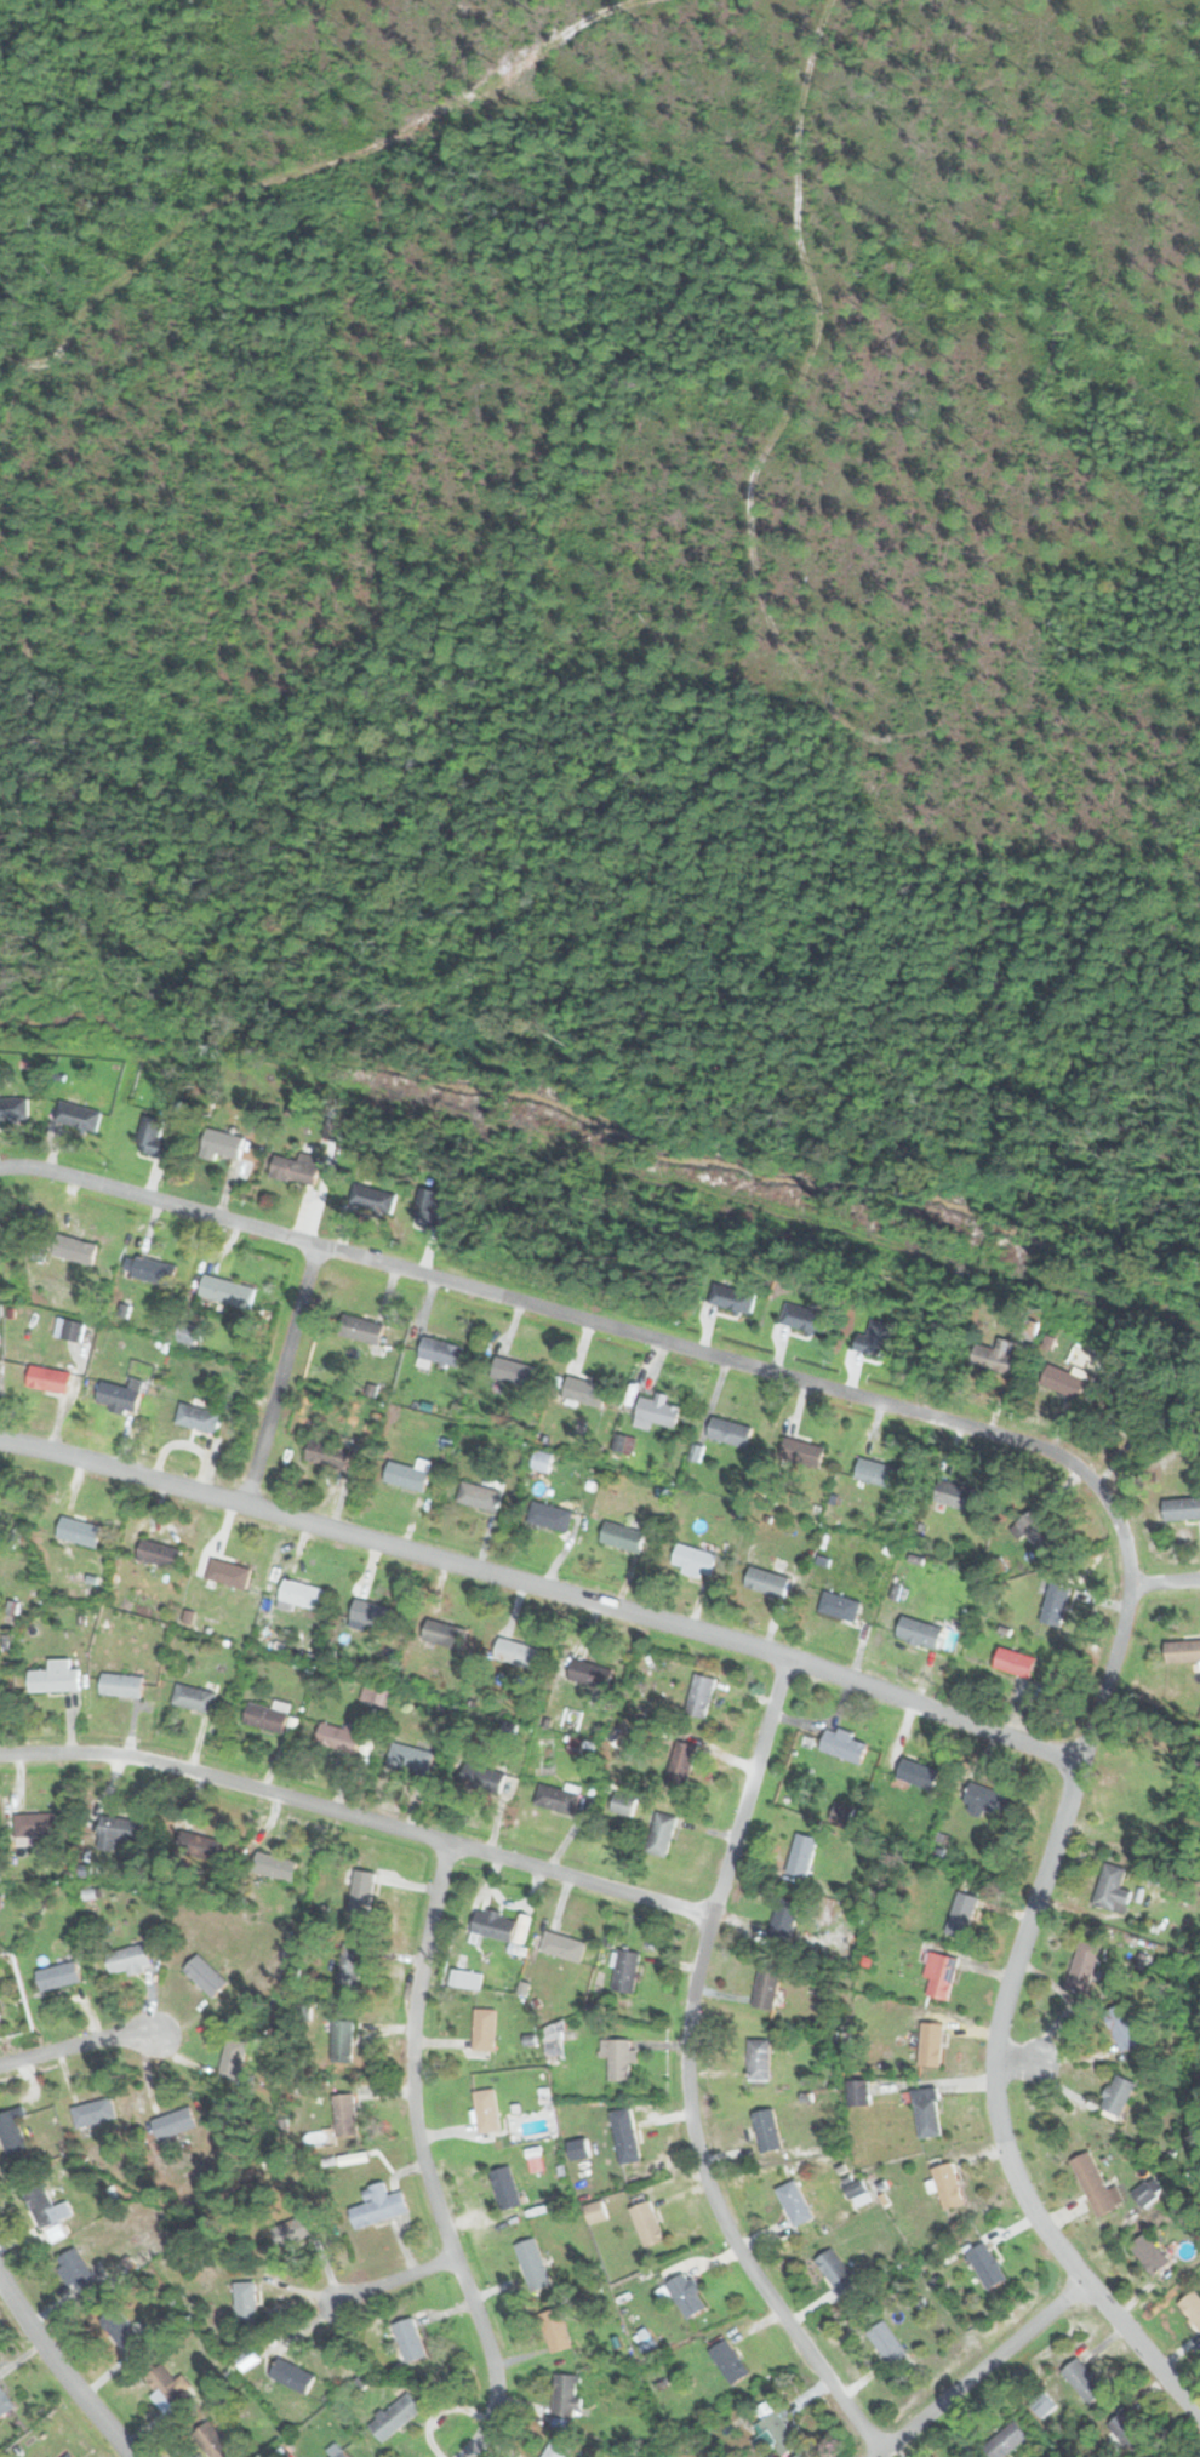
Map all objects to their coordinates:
building: (11, 1110)
building: (76, 1114)
building: (155, 1136)
building: (223, 1145)
building: (296, 1167)
building: (372, 1198)
building: (430, 1207)
building: (74, 1249)
building: (153, 1269)
building: (227, 1290)
building: (731, 1296)
building: (804, 1316)
building: (361, 1329)
building: (874, 1336)
building: (441, 1350)
building: (994, 1355)
building: (513, 1371)
road: (279, 1373)
building: (47, 1378)
building: (1065, 1378)
building: (584, 1392)
building: (119, 1394)
building: (657, 1411)
building: (198, 1418)
building: (728, 1430)
building: (801, 1450)
road: (1046, 1451)
building: (327, 1452)
building: (876, 1472)
building: (408, 1473)
building: (482, 1493)
building: (956, 1495)
building: (1182, 1508)
building: (550, 1515)
building: (79, 1531)
building: (1039, 1531)
building: (622, 1536)
building: (158, 1553)
building: (693, 1560)
building: (228, 1572)
building: (766, 1581)
road: (1164, 1581)
road: (543, 1589)
building: (301, 1593)
building: (1056, 1604)
building: (840, 1606)
building: (372, 1613)
building: (445, 1633)
building: (919, 1633)
building: (1184, 1651)
building: (516, 1652)
building: (1015, 1662)
building: (592, 1674)
building: (56, 1675)
building: (120, 1685)
building: (195, 1696)
building: (699, 1696)
building: (267, 1716)
building: (339, 1736)
building: (842, 1745)
building: (410, 1756)
building: (680, 1762)
building: (916, 1775)
building: (482, 1777)
building: (555, 1799)
building: (984, 1800)
road: (358, 1816)
building: (36, 1824)
building: (116, 1830)
building: (661, 1835)
building: (195, 1845)
building: (801, 1855)
building: (276, 1864)
building: (1112, 1889)
building: (361, 1891)
building: (961, 1914)
building: (783, 1921)
building: (493, 1924)
building: (562, 1947)
building: (126, 1958)
building: (349, 1964)
building: (1084, 1964)
building: (624, 1971)
building: (204, 1975)
building: (57, 1976)
building: (941, 1976)
building: (465, 1978)
building: (766, 1987)
building: (1122, 2028)
building: (484, 2029)
building: (0, 2030)
building: (342, 2040)
building: (554, 2040)
road: (79, 2044)
building: (932, 2044)
building: (617, 2058)
building: (759, 2058)
building: (232, 2059)
road: (1018, 2062)
road: (687, 2076)
building: (858, 2092)
building: (1116, 2095)
building: (486, 2110)
building: (92, 2112)
building: (927, 2113)
building: (344, 2114)
building: (172, 2122)
building: (12, 2130)
building: (766, 2130)
building: (624, 2135)
road: (422, 2159)
building: (535, 2161)
building: (947, 2185)
building: (1095, 2185)
building: (504, 2188)
building: (856, 2189)
building: (795, 2202)
building: (378, 2205)
building: (46, 2206)
building: (647, 2223)
building: (292, 2230)
building: (1148, 2253)
building: (533, 2265)
building: (985, 2265)
building: (75, 2269)
building: (835, 2270)
road: (395, 2278)
building: (686, 2295)
building: (246, 2303)
building: (1192, 2308)
building: (556, 2331)
building: (124, 2336)
building: (408, 2341)
building: (887, 2343)
building: (728, 2362)
road: (979, 2369)
road: (62, 2371)
building: (291, 2376)
building: (1084, 2381)
building: (166, 2385)
building: (566, 2396)
building: (4, 2404)
building: (1042, 2405)
building: (394, 2417)
building: (772, 2432)
building: (1130, 2434)
building: (1005, 2440)
building: (213, 2441)
building: (556, 2449)
building: (67, 2455)
building: (338, 2455)

